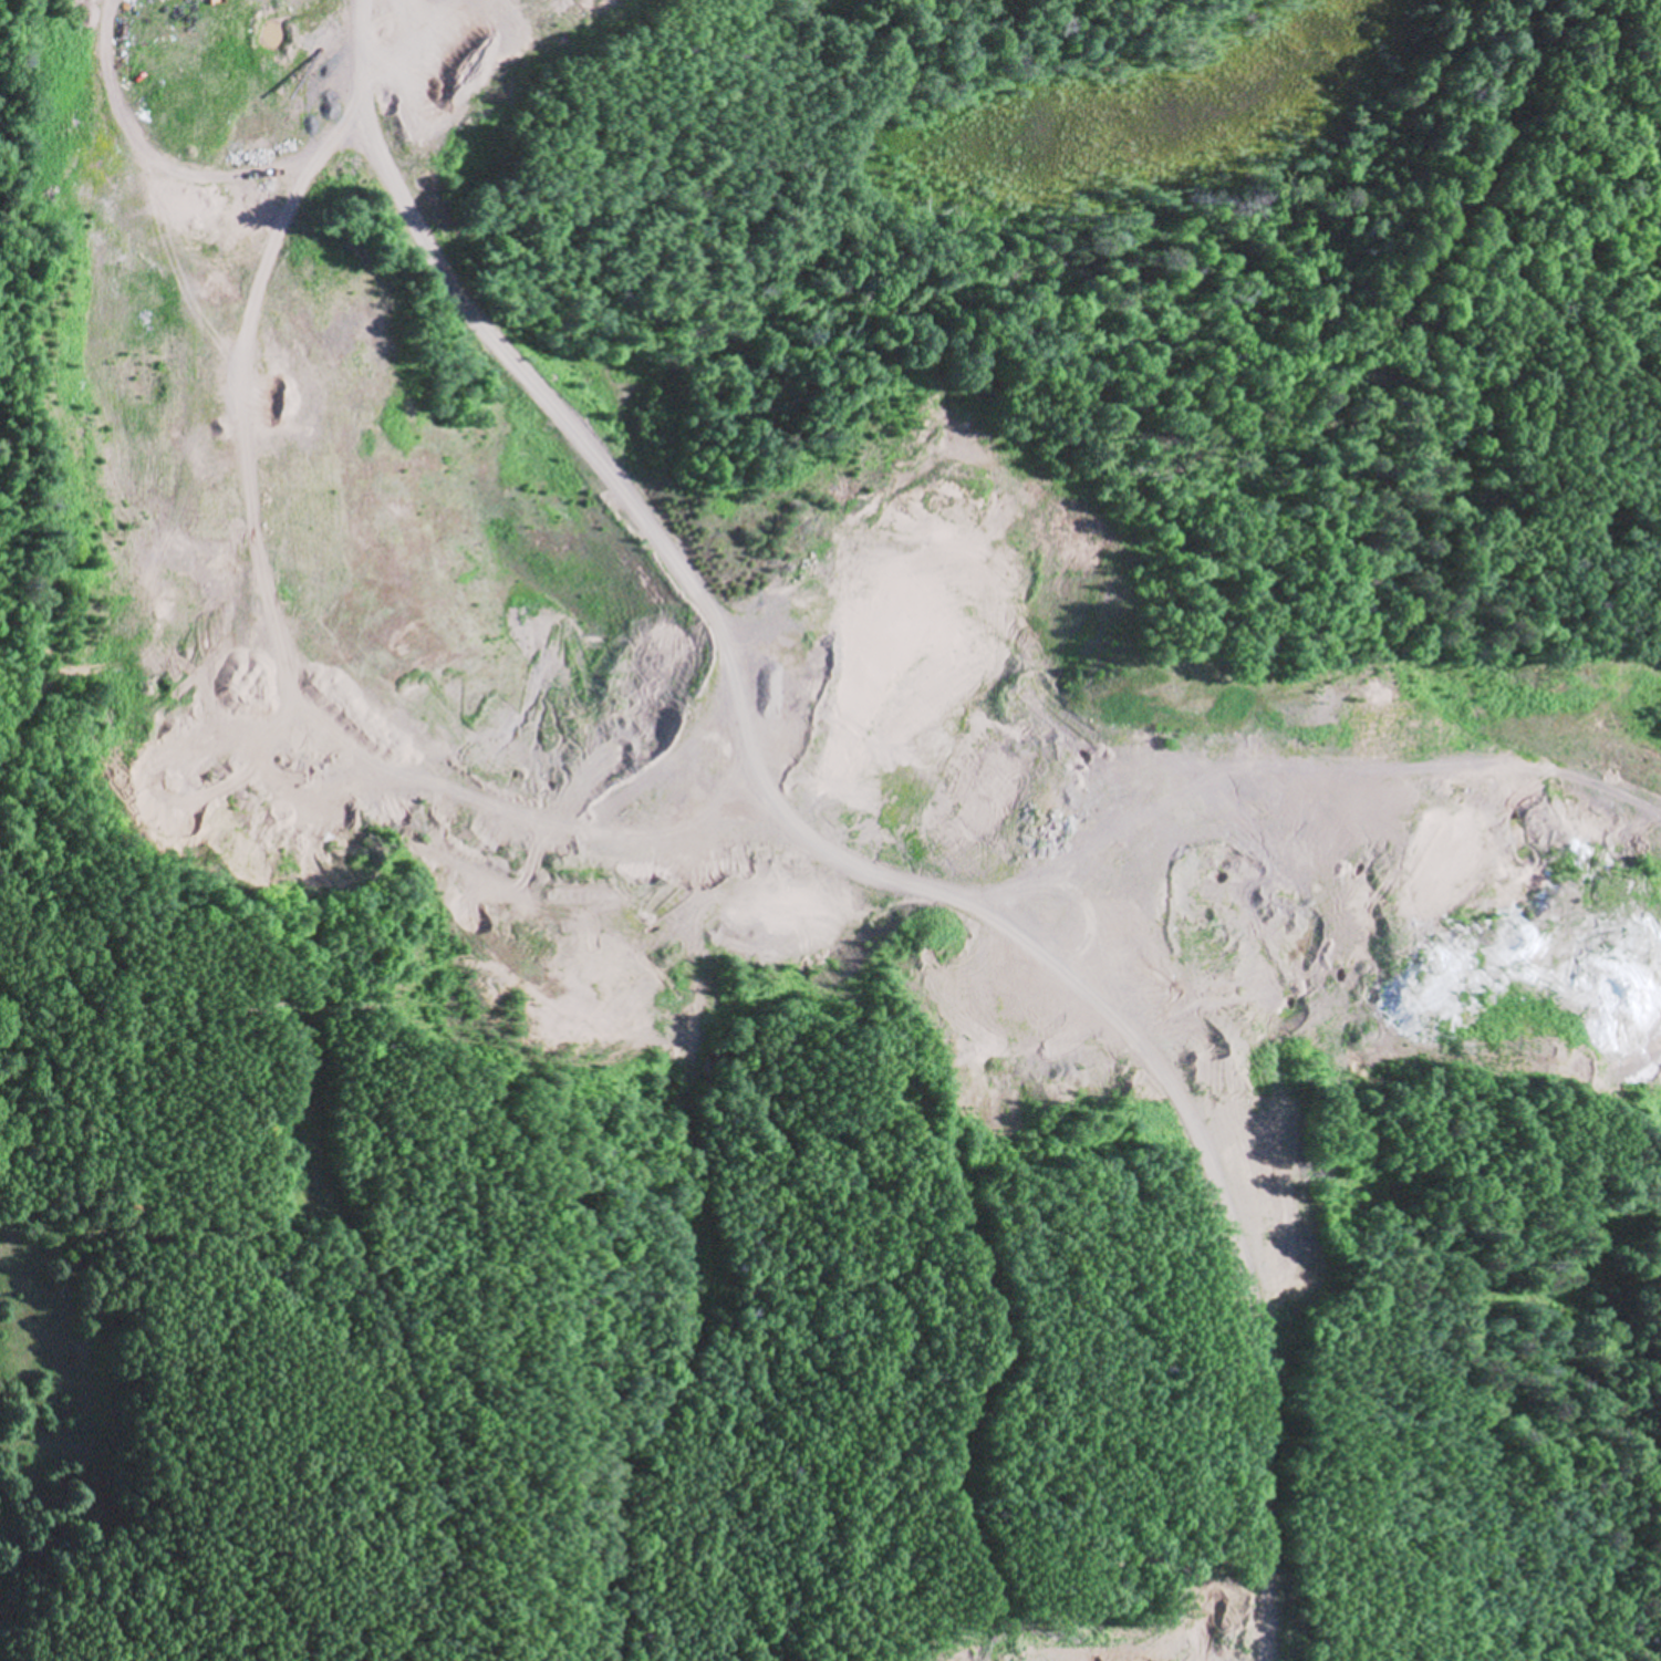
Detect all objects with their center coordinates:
quarry: (839, 8)
road: (183, 173)
road: (1456, 227)
road: (653, 532)
quarry: (747, 662)
road: (1402, 779)
quarry: (782, 917)
road: (1293, 1210)
quarry: (1200, 1643)

